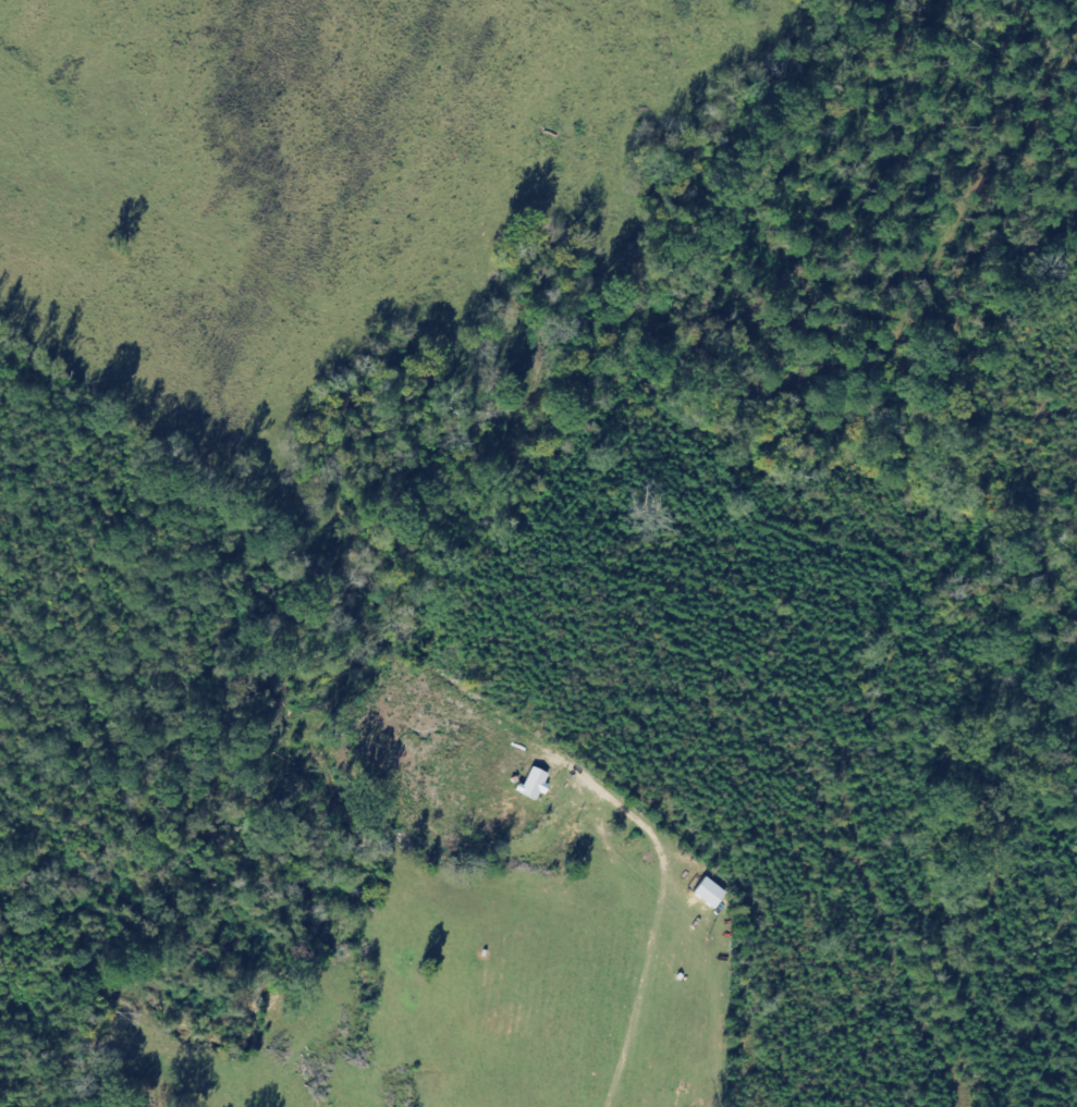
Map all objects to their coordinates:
road: (890, 1065)

